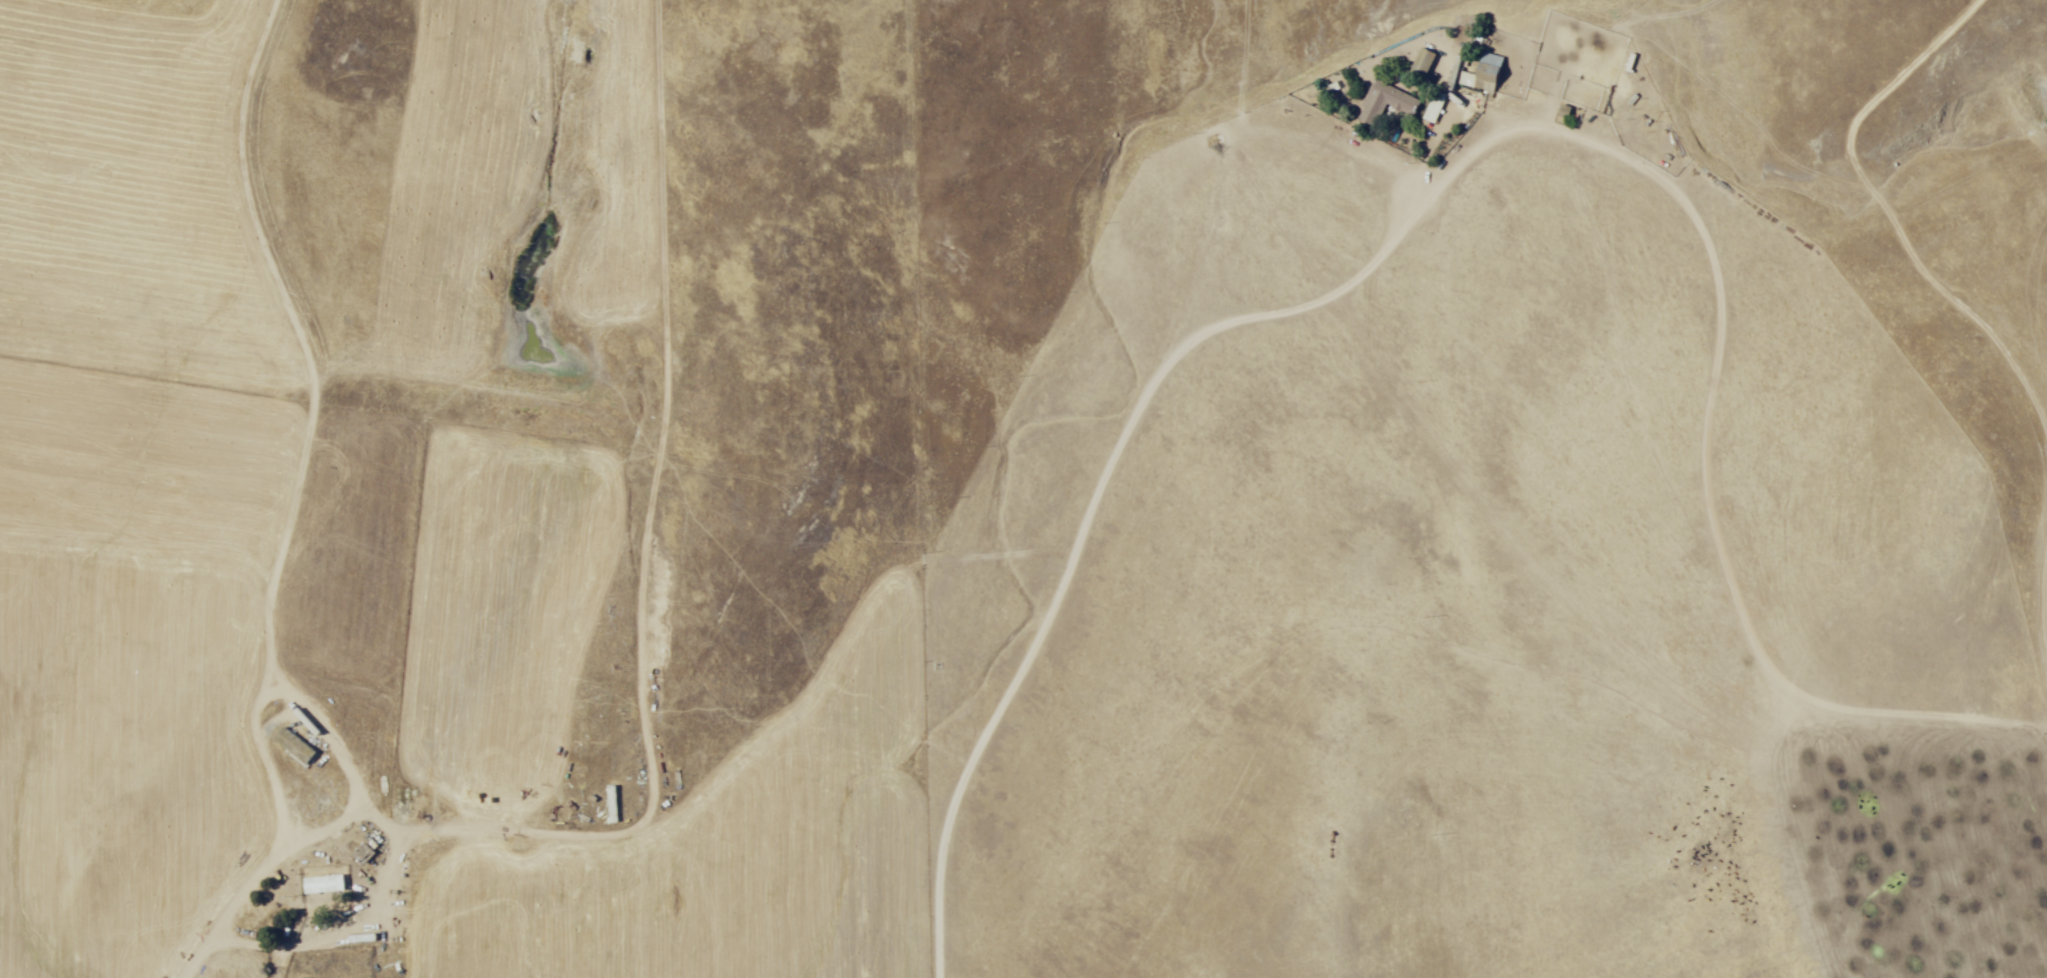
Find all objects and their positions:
road: (1848, 14)
building: (1424, 62)
building: (1491, 72)
road: (1685, 102)
building: (1387, 103)
road: (1496, 226)
wastewater plant: (522, 320)
building: (298, 746)
road: (1769, 852)
building: (365, 853)

